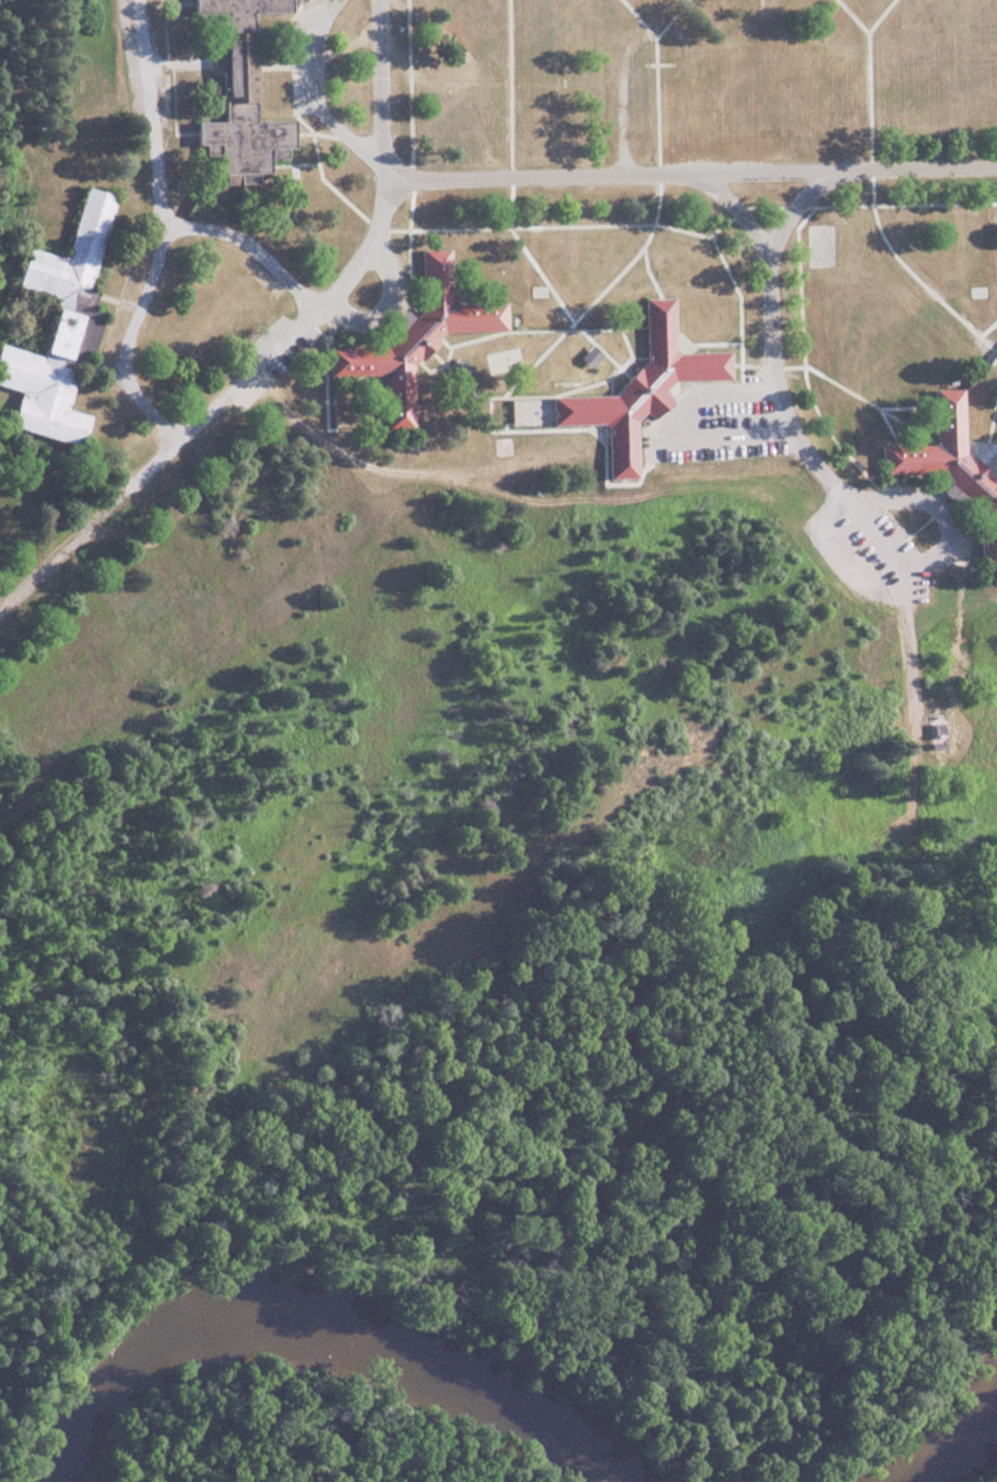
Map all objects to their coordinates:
building: (756, 57)
building: (240, 94)
building: (796, 116)
road: (845, 167)
road: (455, 177)
road: (734, 206)
road: (209, 227)
road: (162, 230)
road: (285, 274)
building: (56, 326)
building: (415, 338)
building: (504, 359)
building: (638, 388)
road: (214, 402)
road: (795, 427)
building: (951, 472)
road: (941, 507)
river: (328, 1319)
river: (945, 1441)

